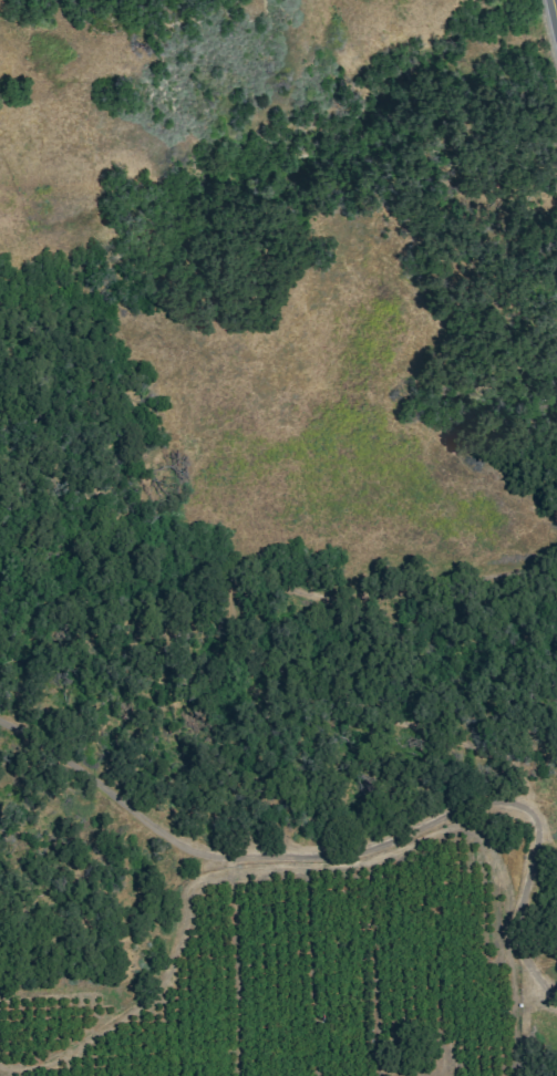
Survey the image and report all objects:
road: (556, 1)
road: (203, 875)

